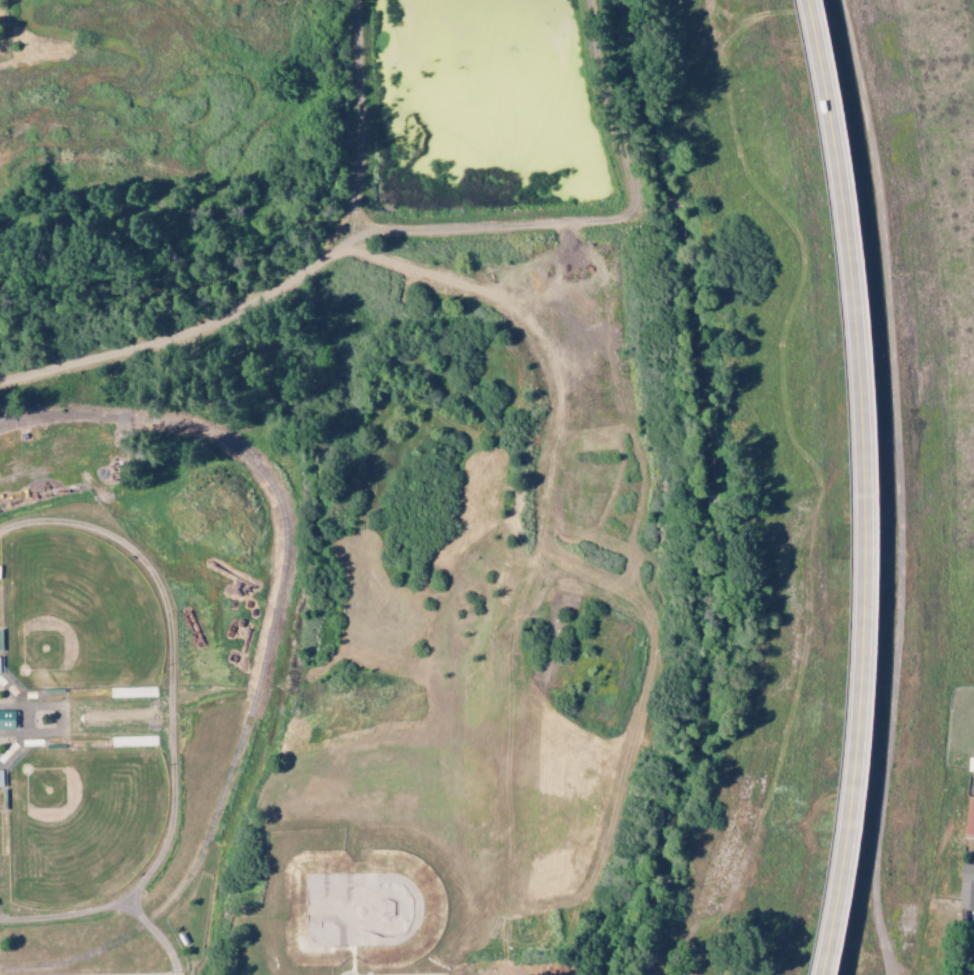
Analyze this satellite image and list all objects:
road: (356, 114)
road: (611, 219)
road: (352, 236)
road: (182, 334)
road: (864, 487)
road: (532, 555)
park: (75, 614)
road: (167, 635)
railway: (263, 648)
building: (7, 719)
road: (101, 734)
building: (971, 764)
building: (969, 819)
park: (82, 822)
road: (153, 860)
building: (967, 886)
park: (360, 910)
road: (67, 914)
parking lot: (158, 974)

